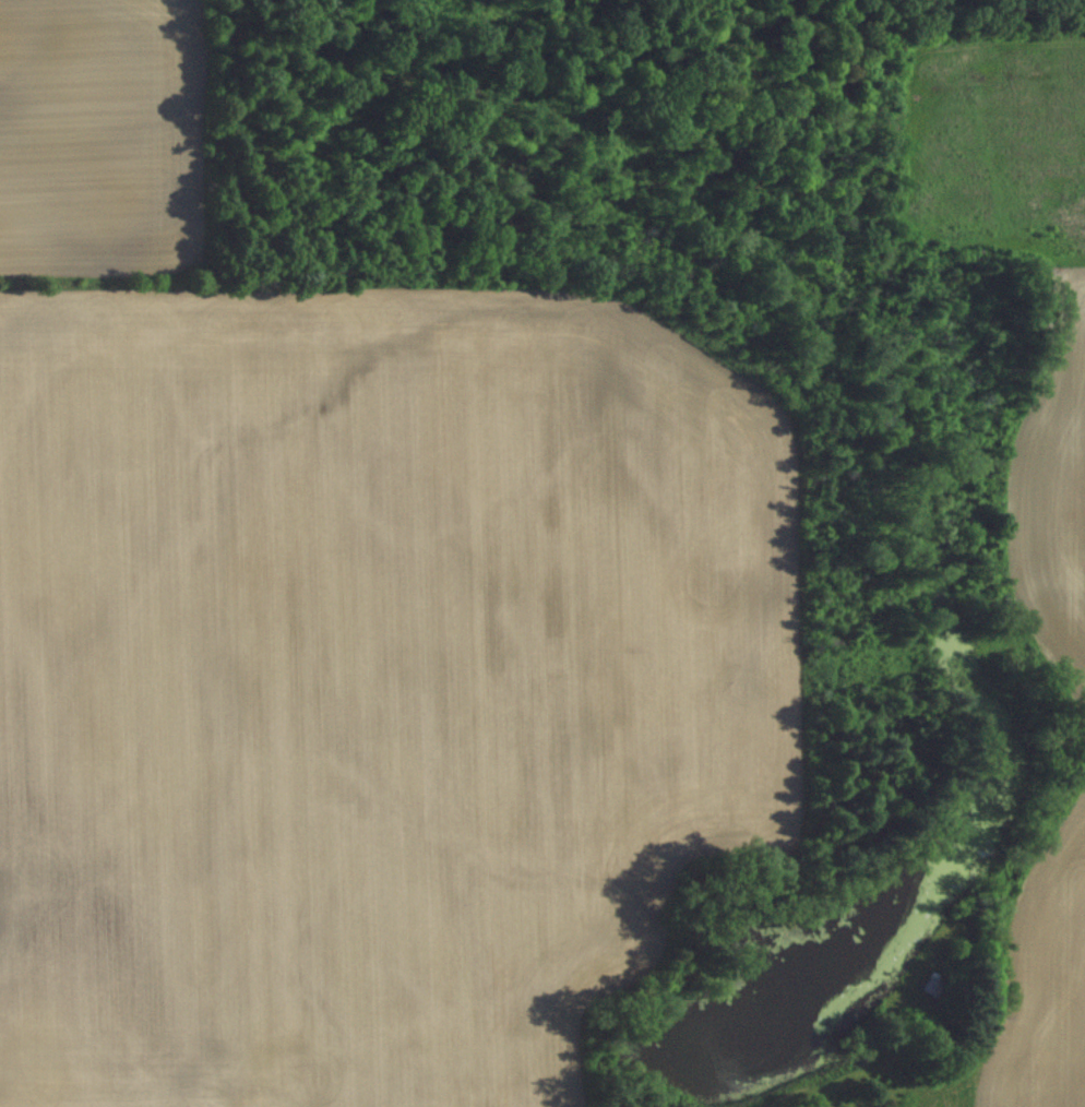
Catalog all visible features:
building: (932, 985)

